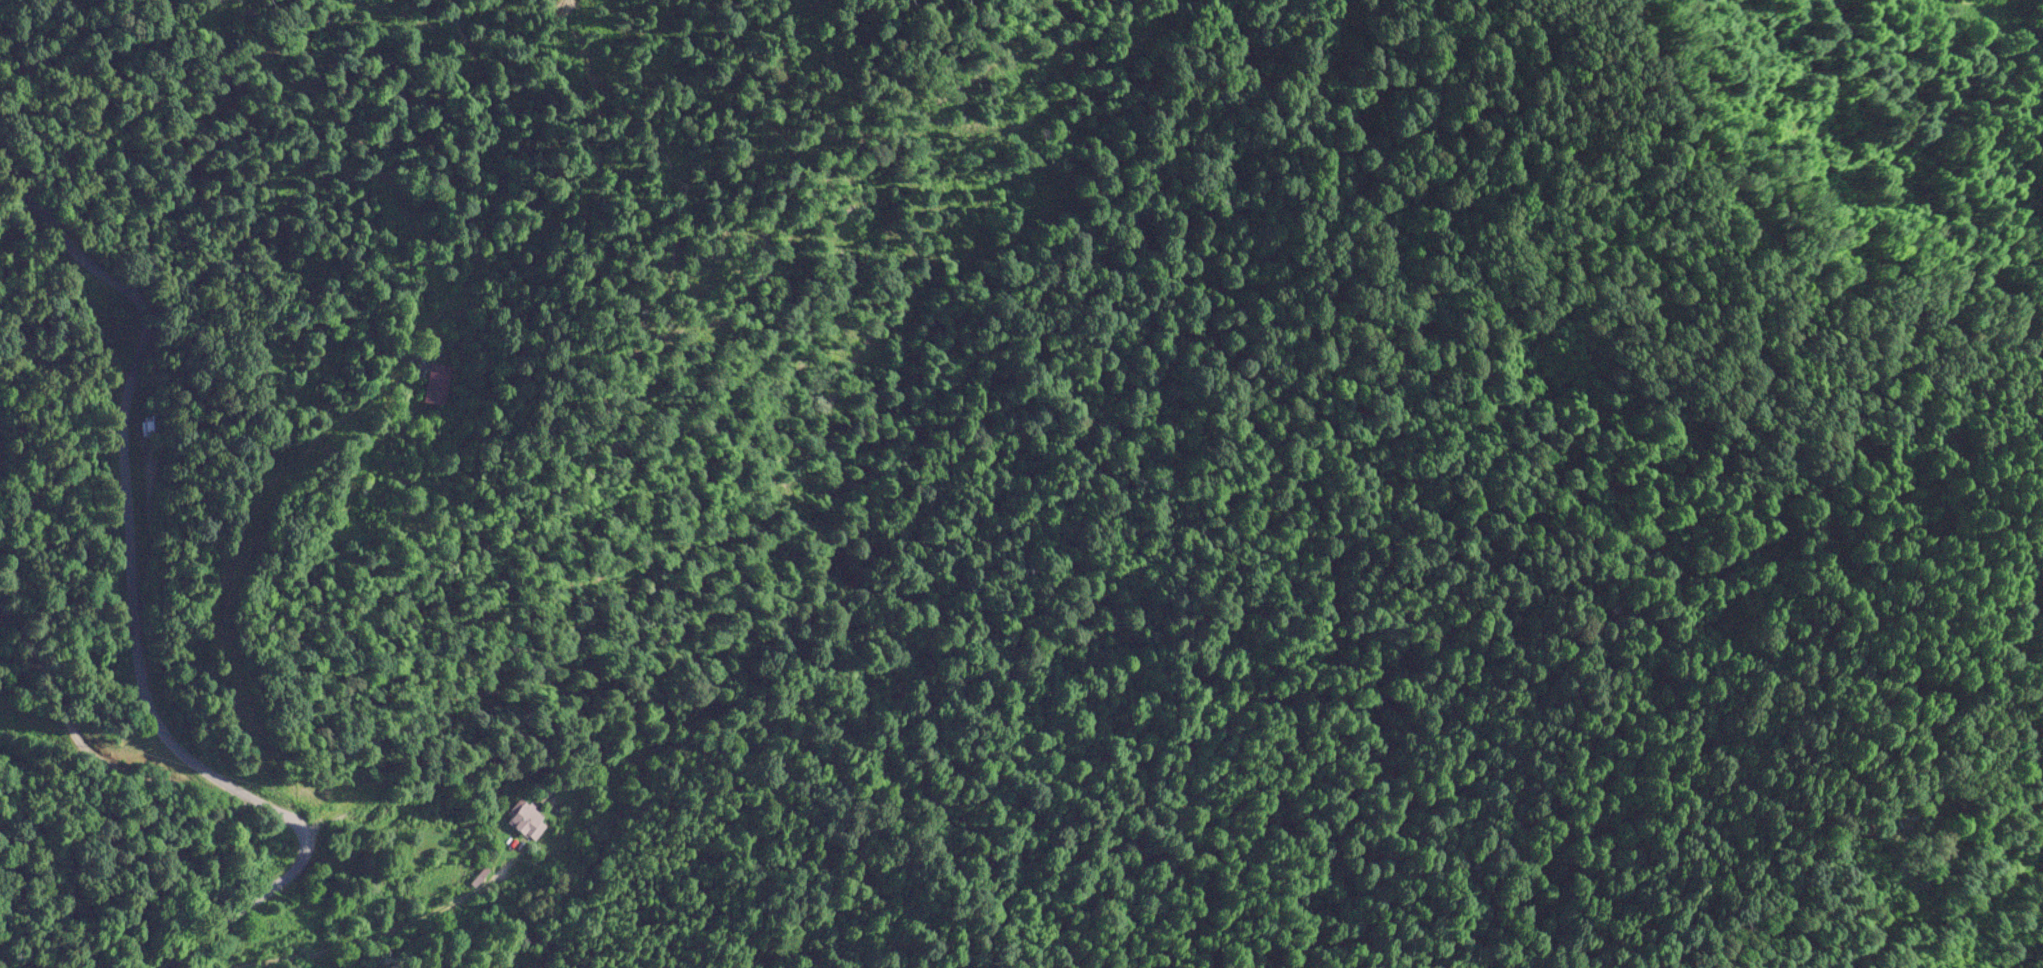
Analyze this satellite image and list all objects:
building: (437, 382)
road: (2032, 422)
road: (107, 594)
building: (526, 820)

